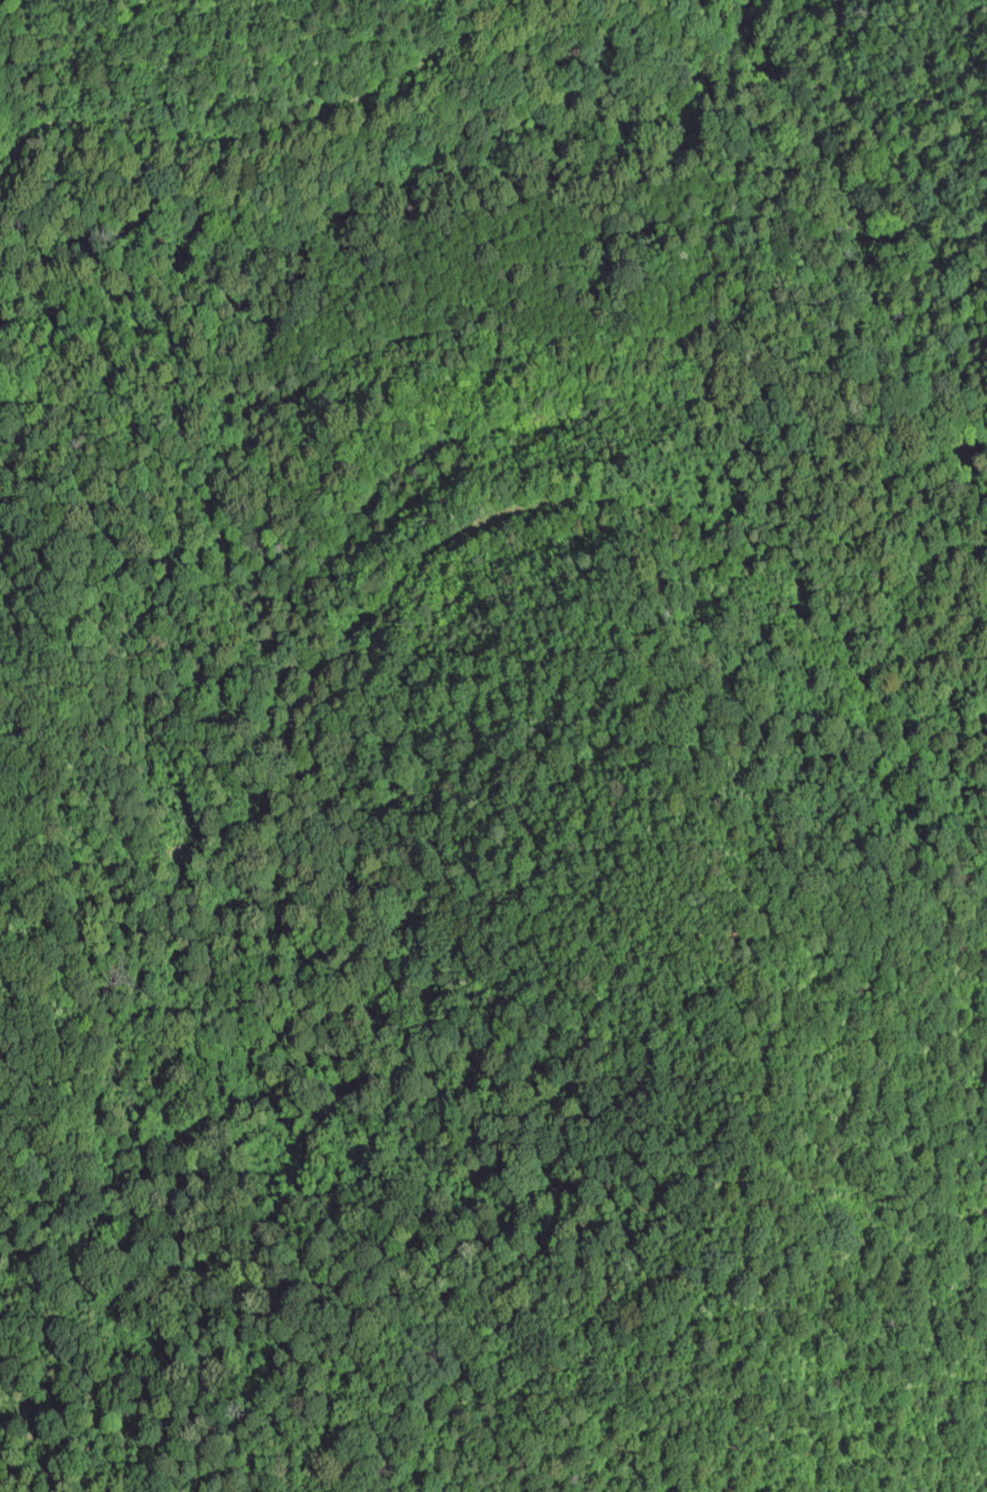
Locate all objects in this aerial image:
road: (274, 126)
road: (469, 533)

